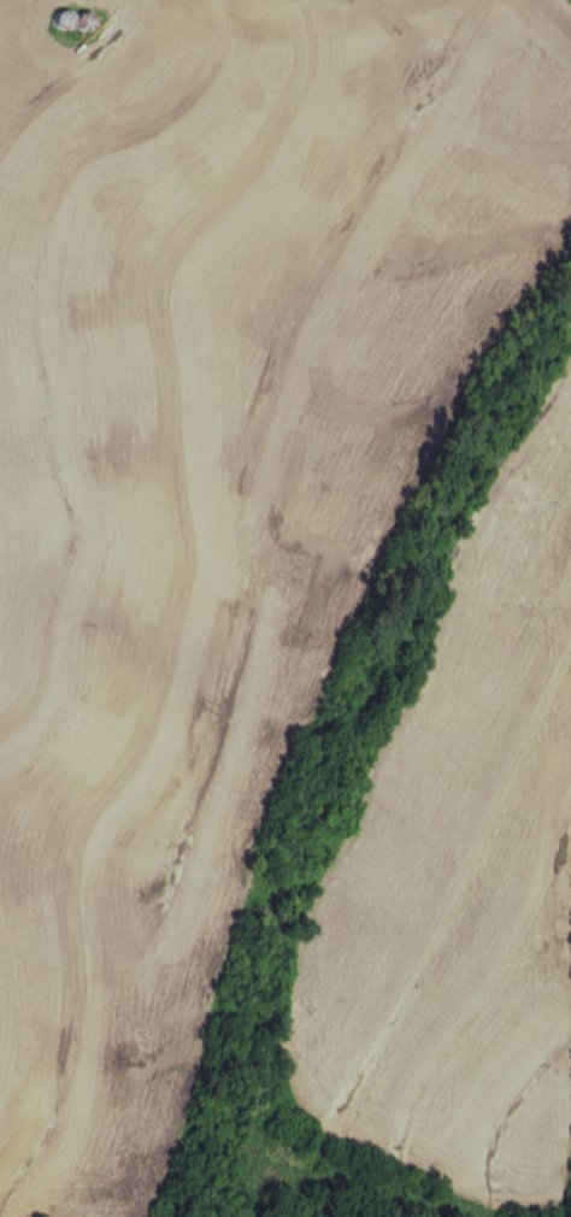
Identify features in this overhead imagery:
building: (71, 22)

